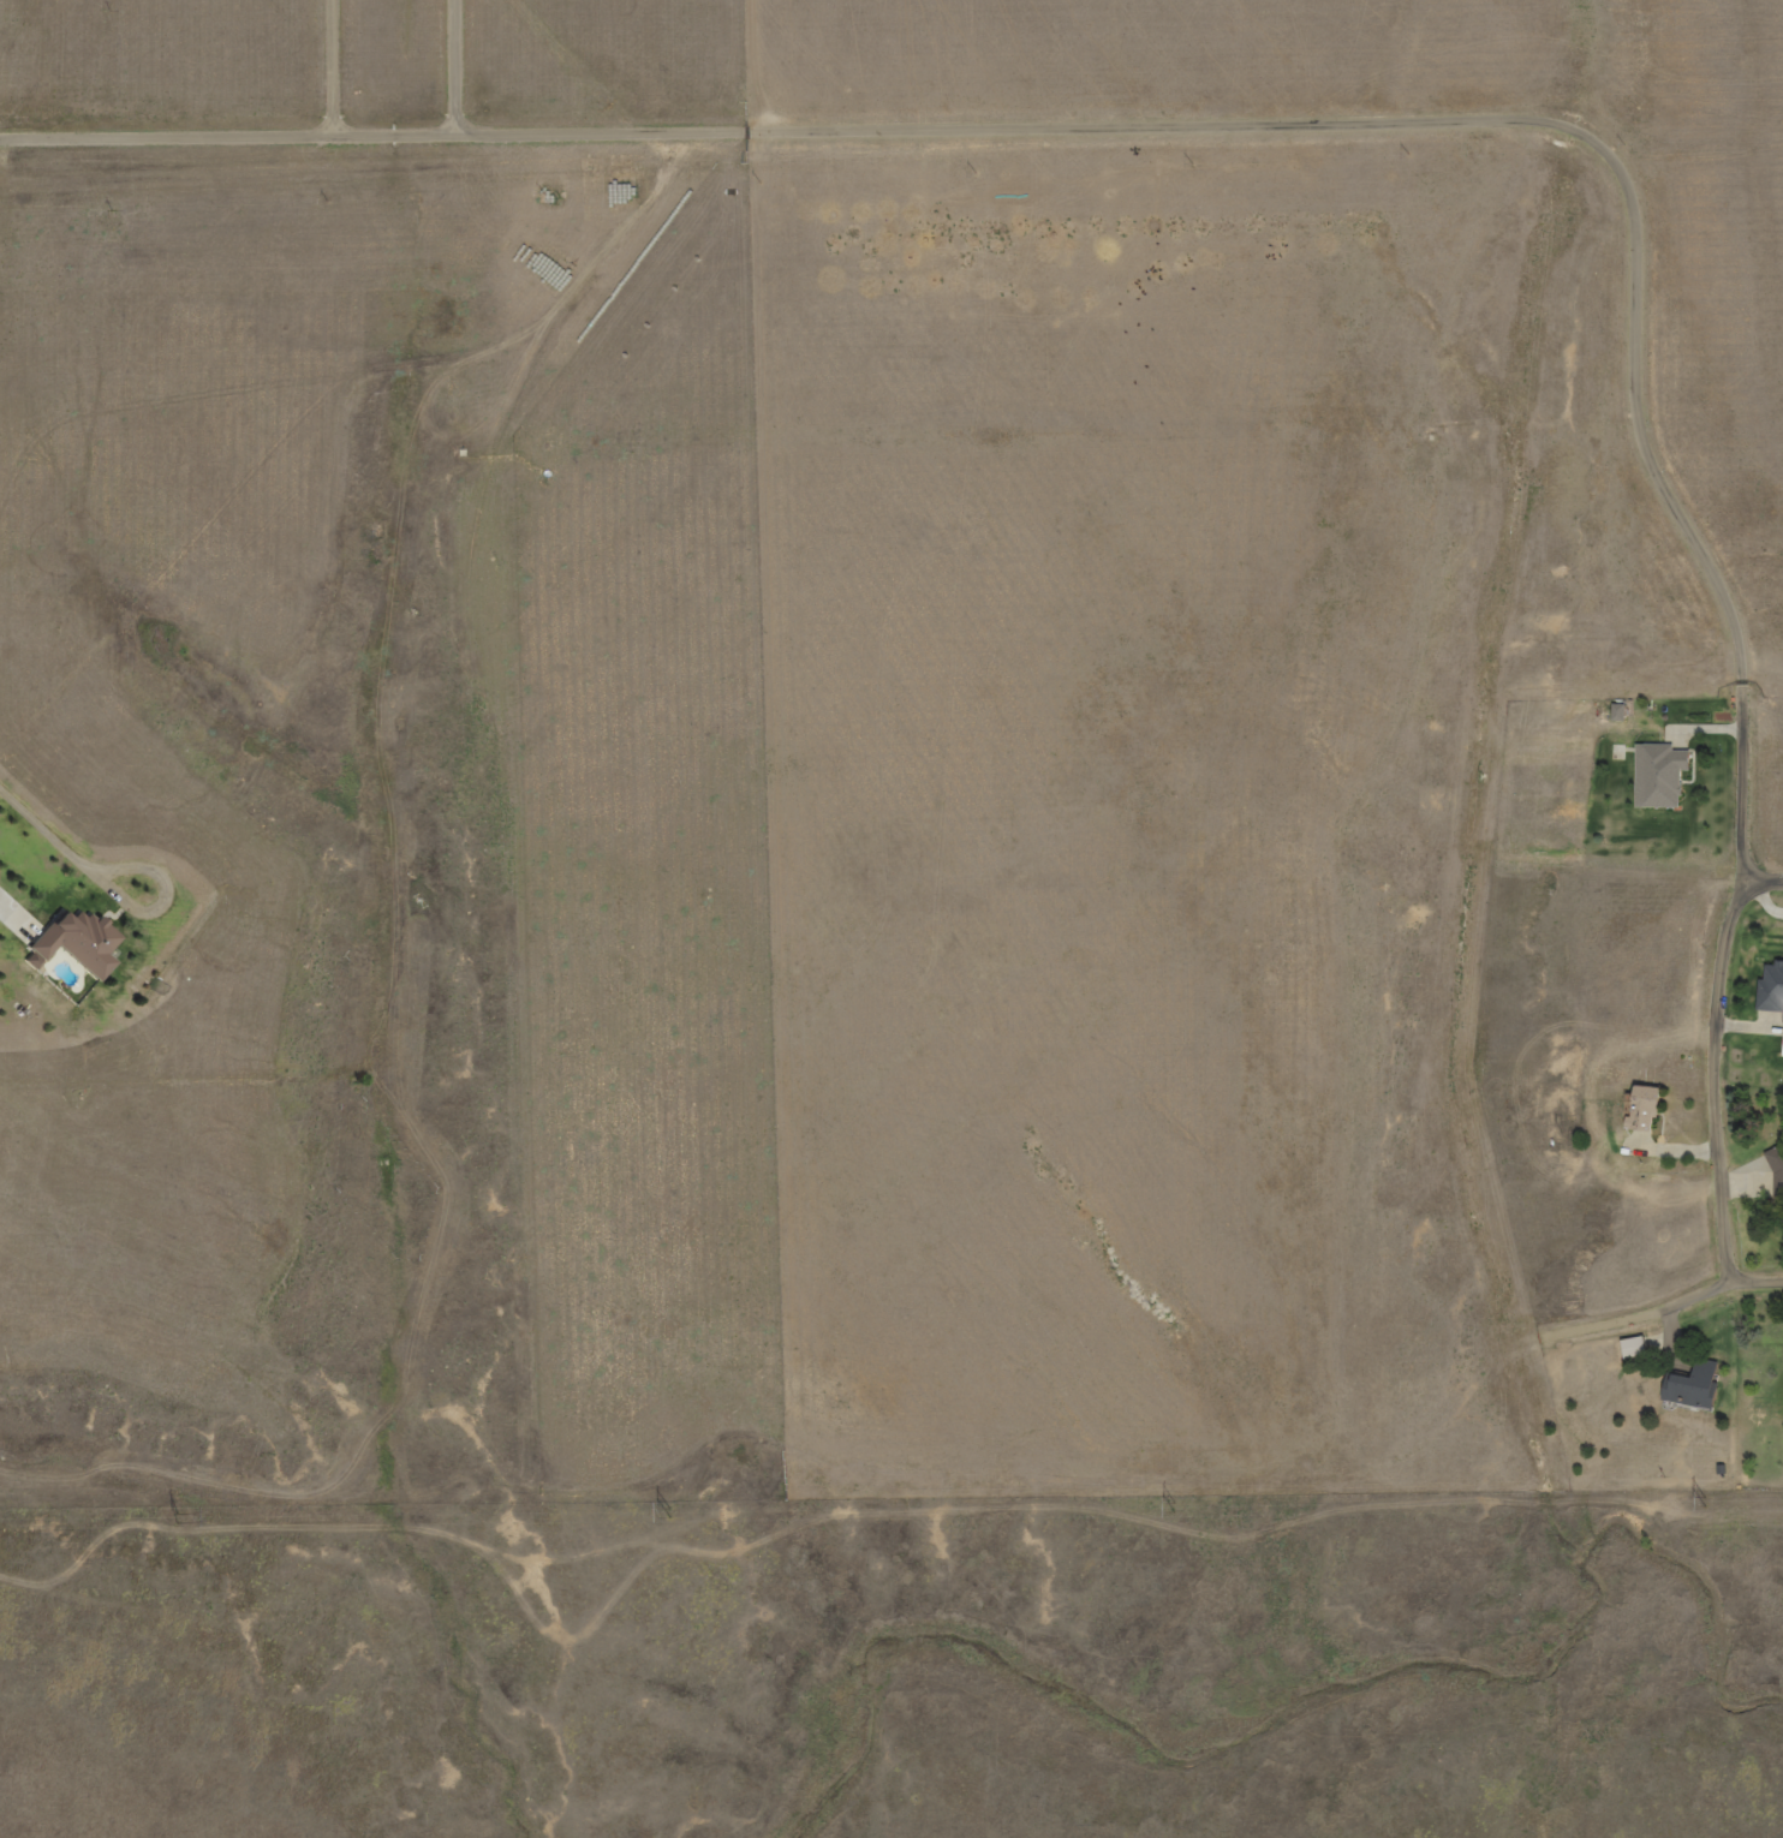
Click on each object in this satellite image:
building: (1657, 775)
road: (1765, 878)
building: (83, 939)
road: (1724, 989)
building: (1770, 990)
building: (1782, 1045)
building: (1641, 1106)
building: (1776, 1176)
road: (1676, 1302)
building: (1632, 1348)
building: (1692, 1386)

